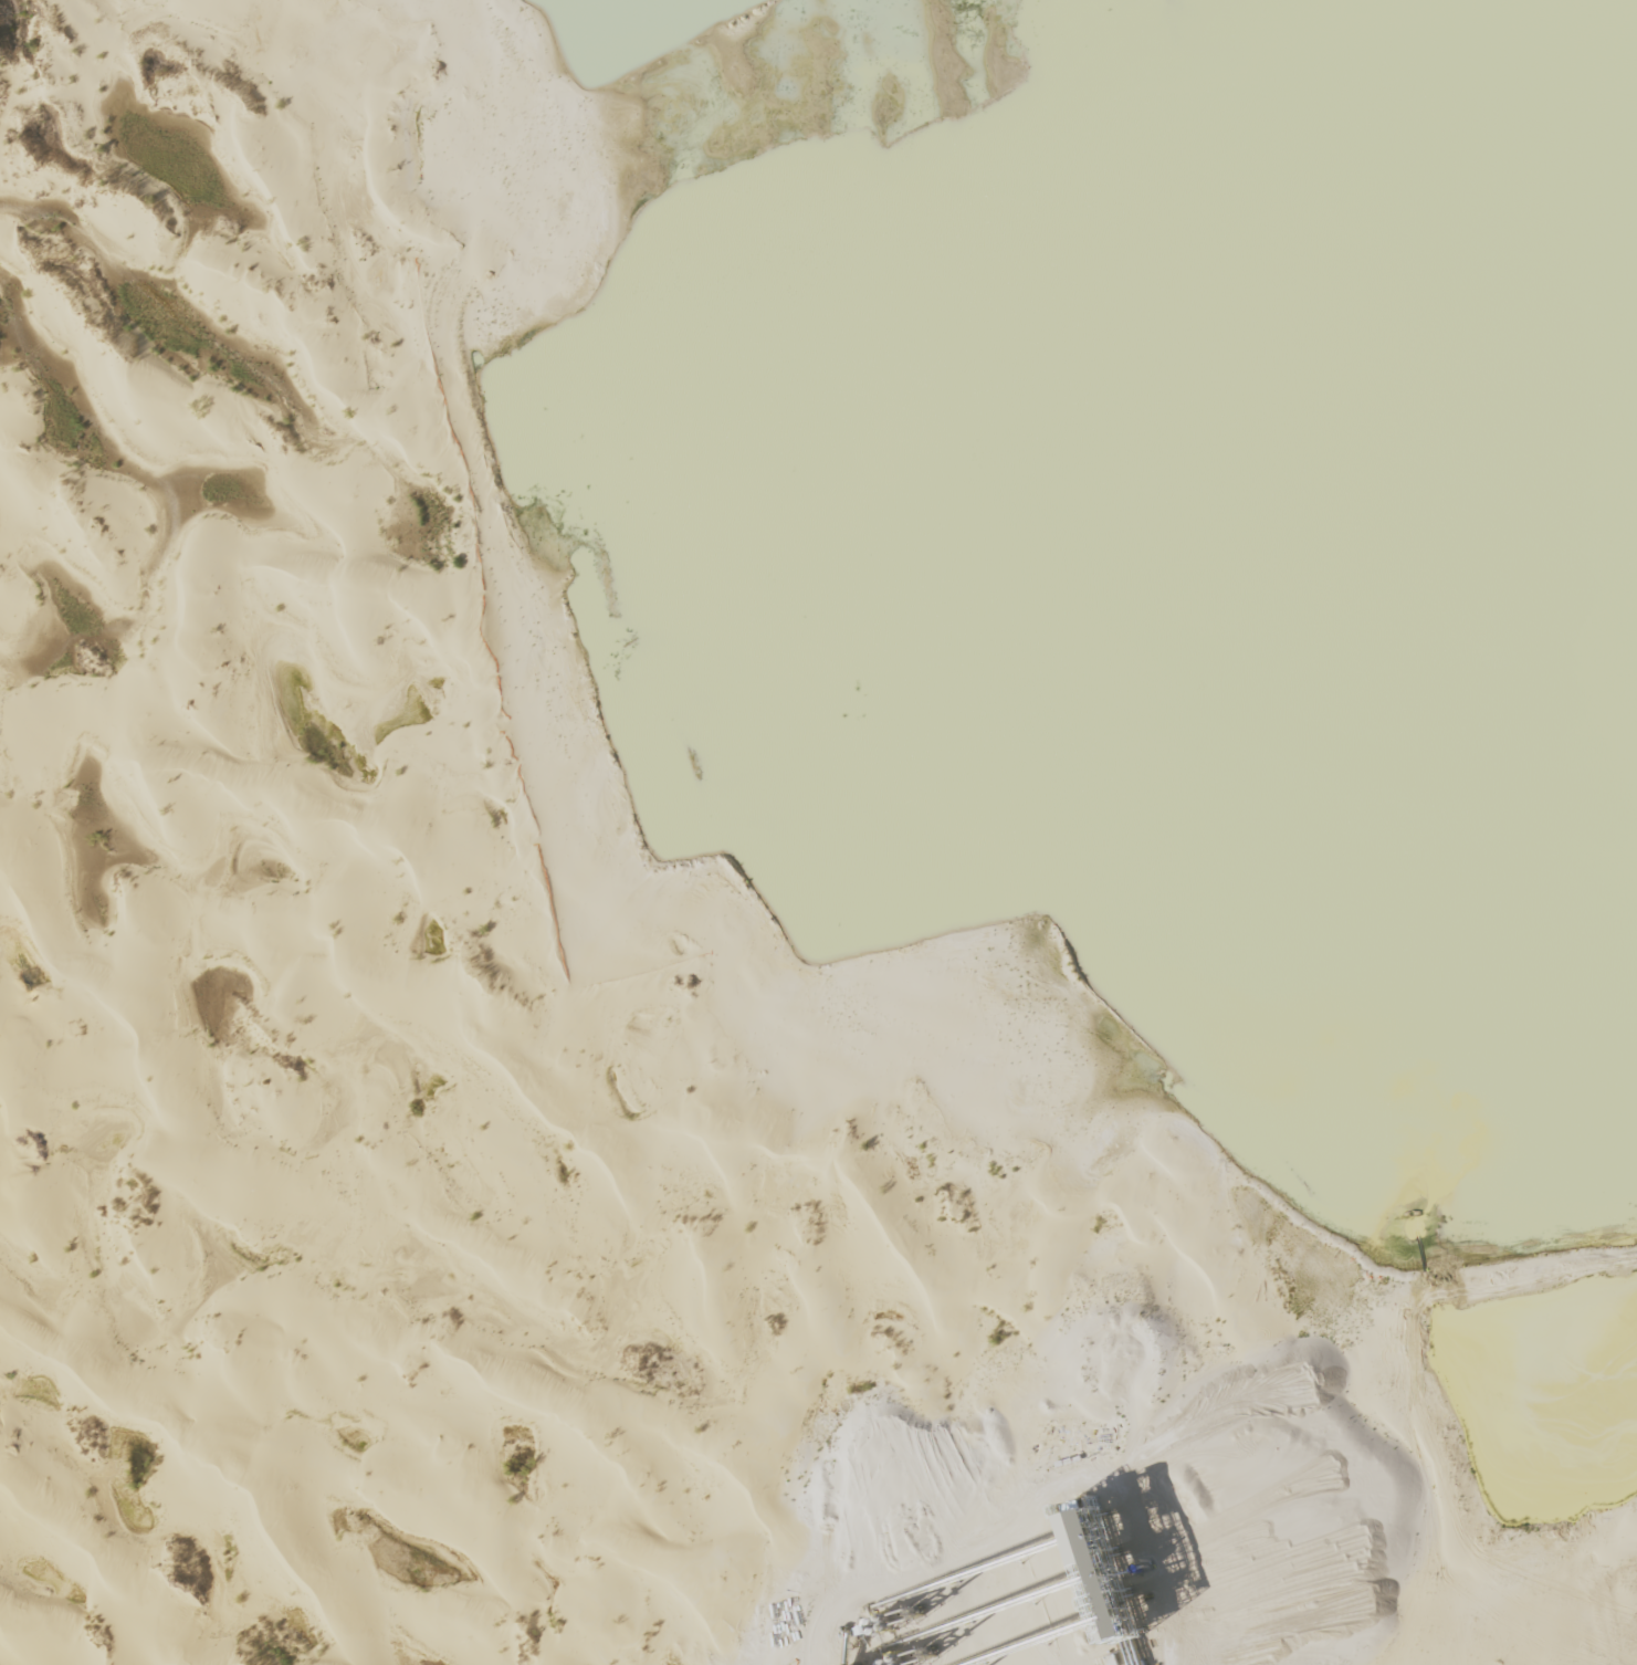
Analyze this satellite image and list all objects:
building: (1132, 1552)

